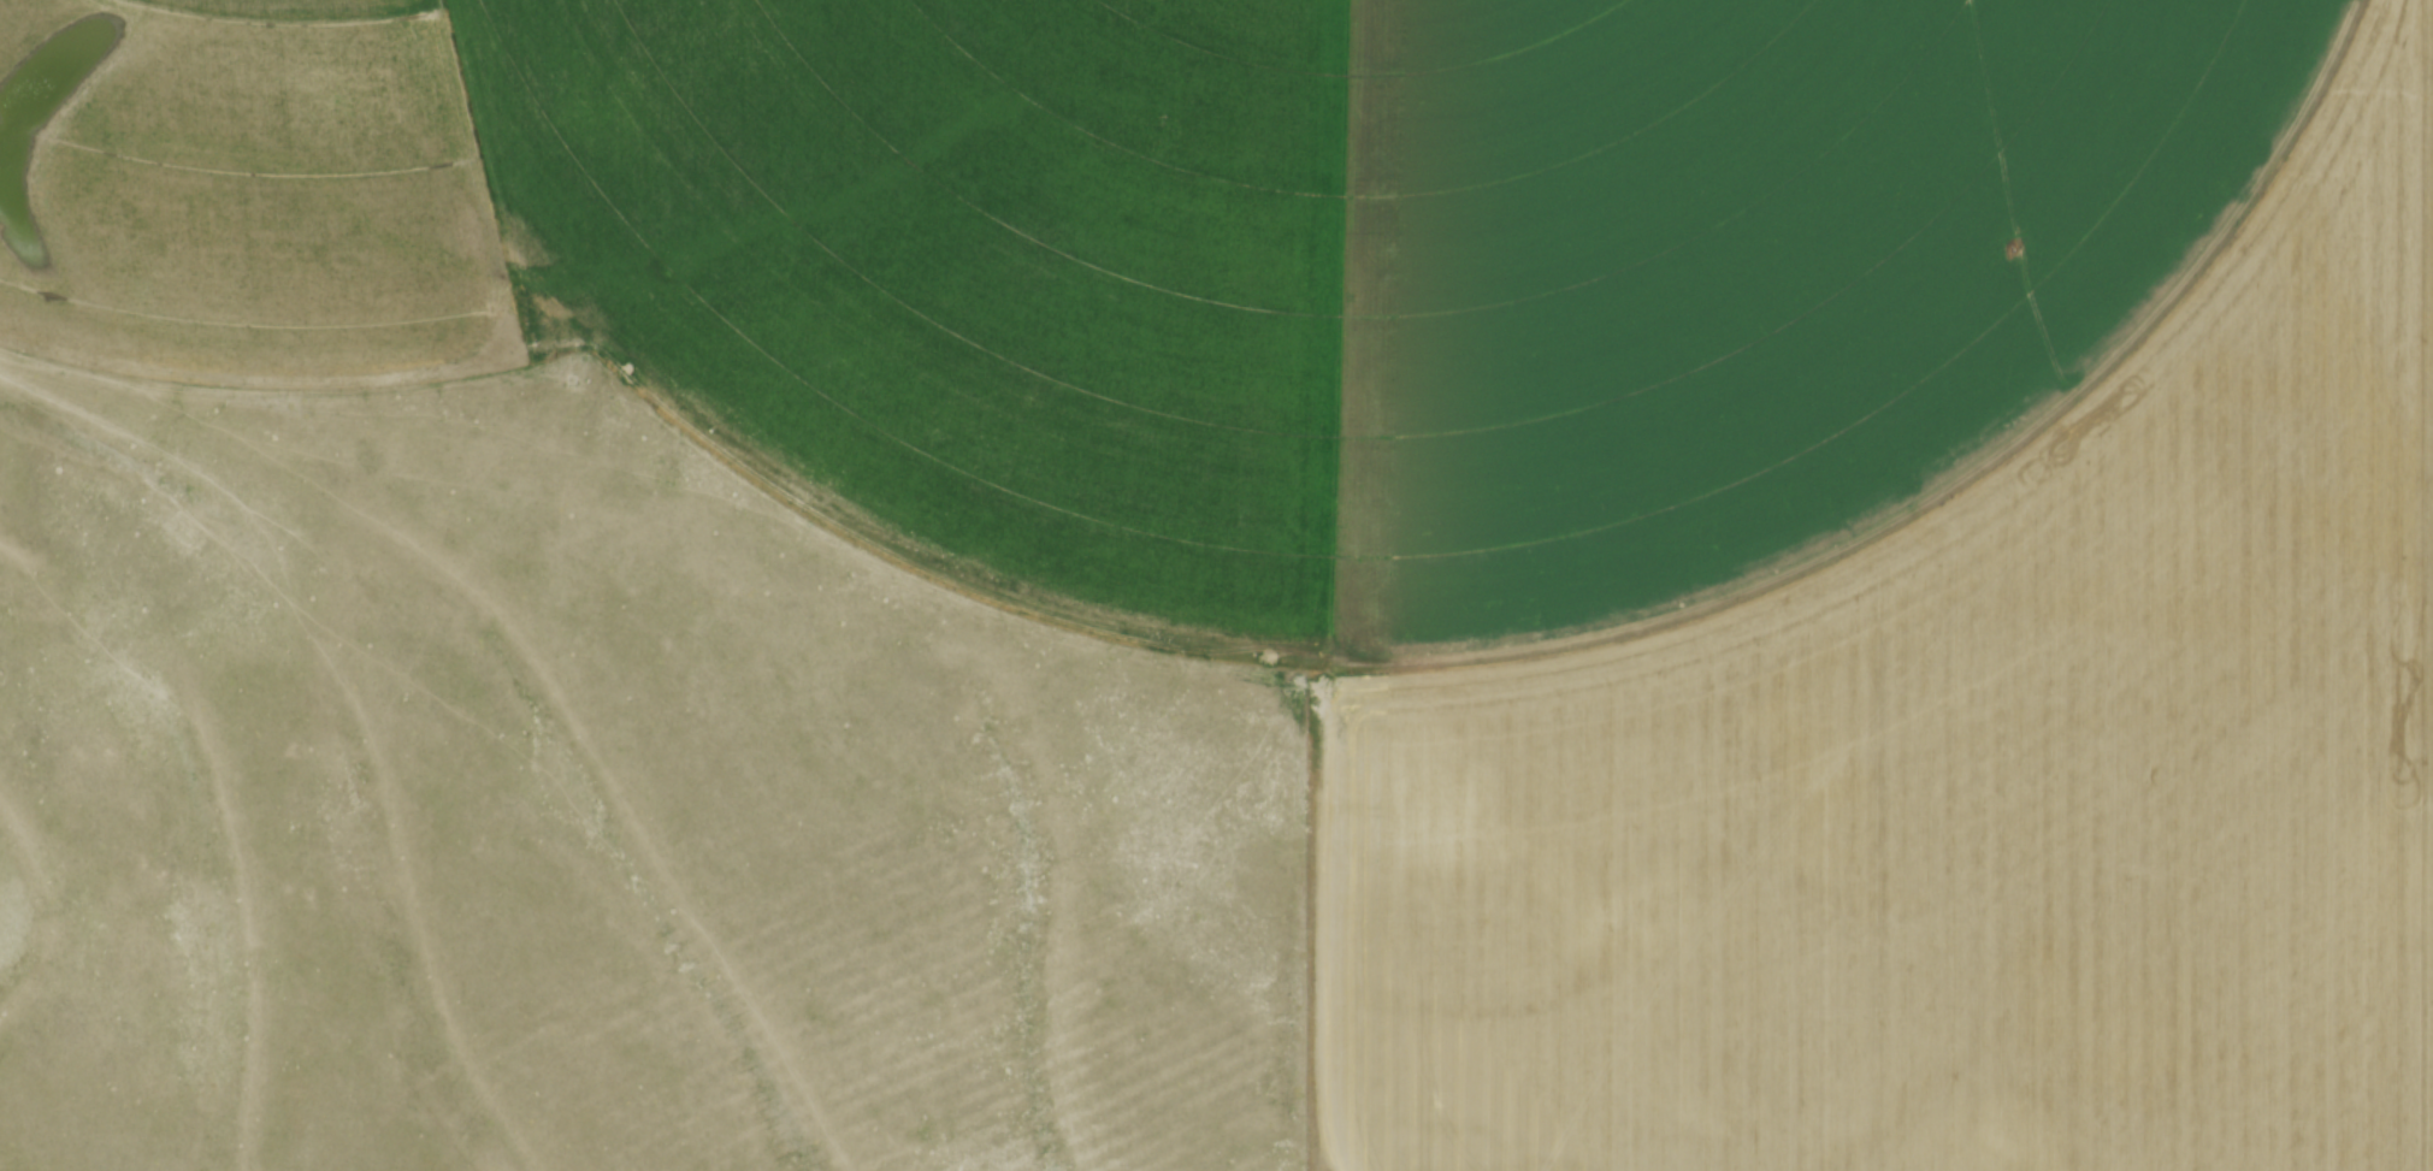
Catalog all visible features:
crop: (1524, 474)
crop: (597, 814)

